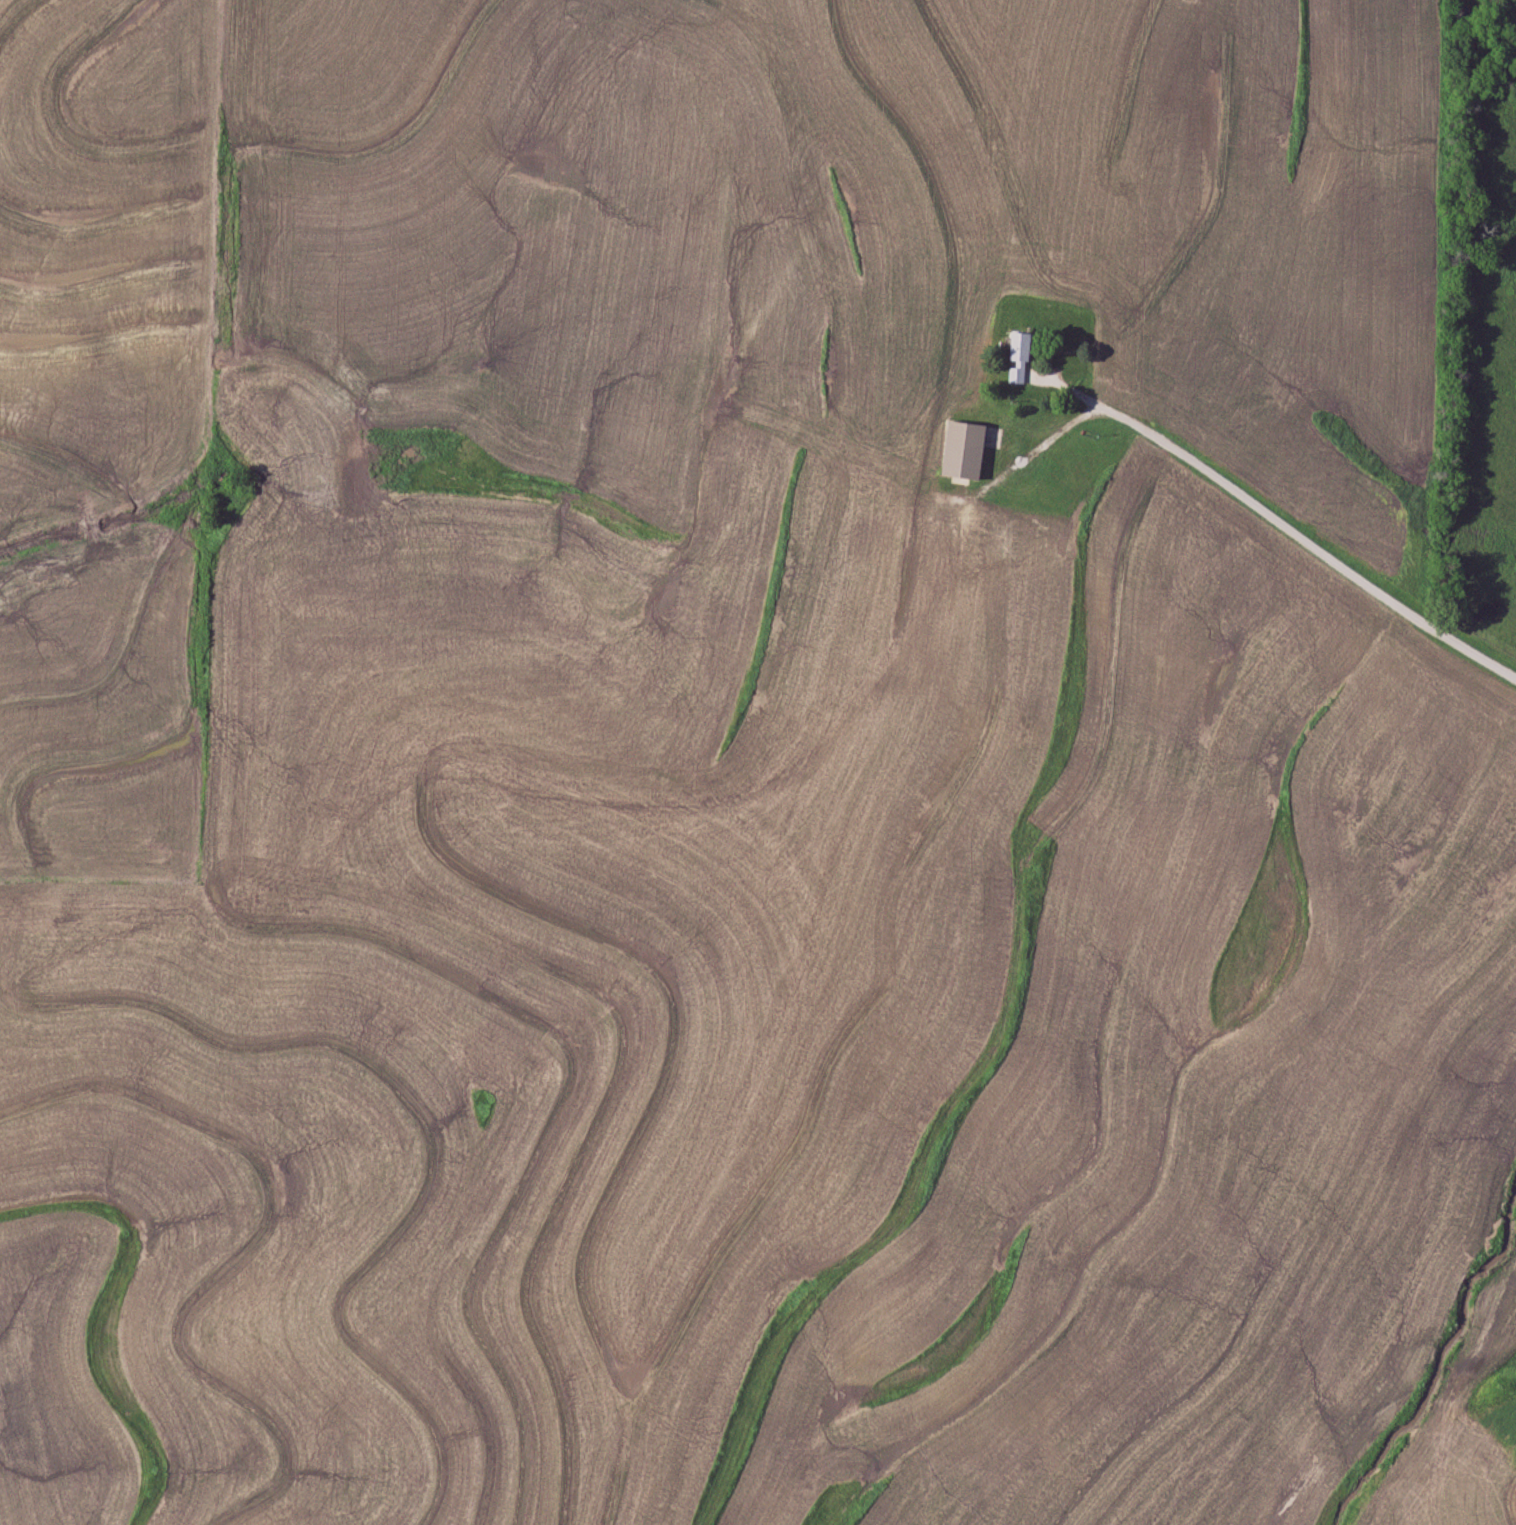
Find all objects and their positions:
building: (1019, 355)
building: (969, 448)
road: (1330, 561)

